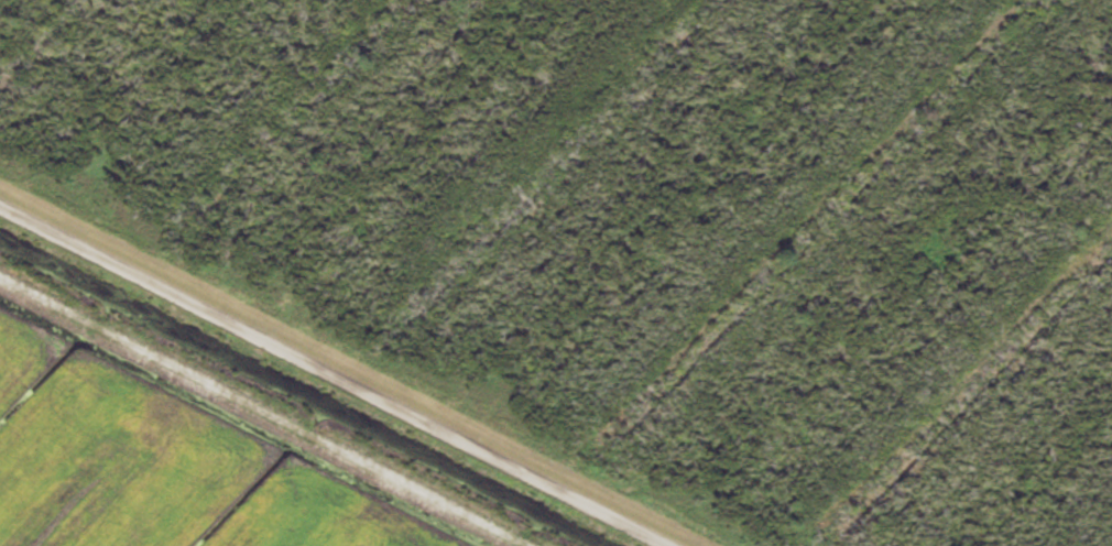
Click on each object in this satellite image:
road: (330, 380)

